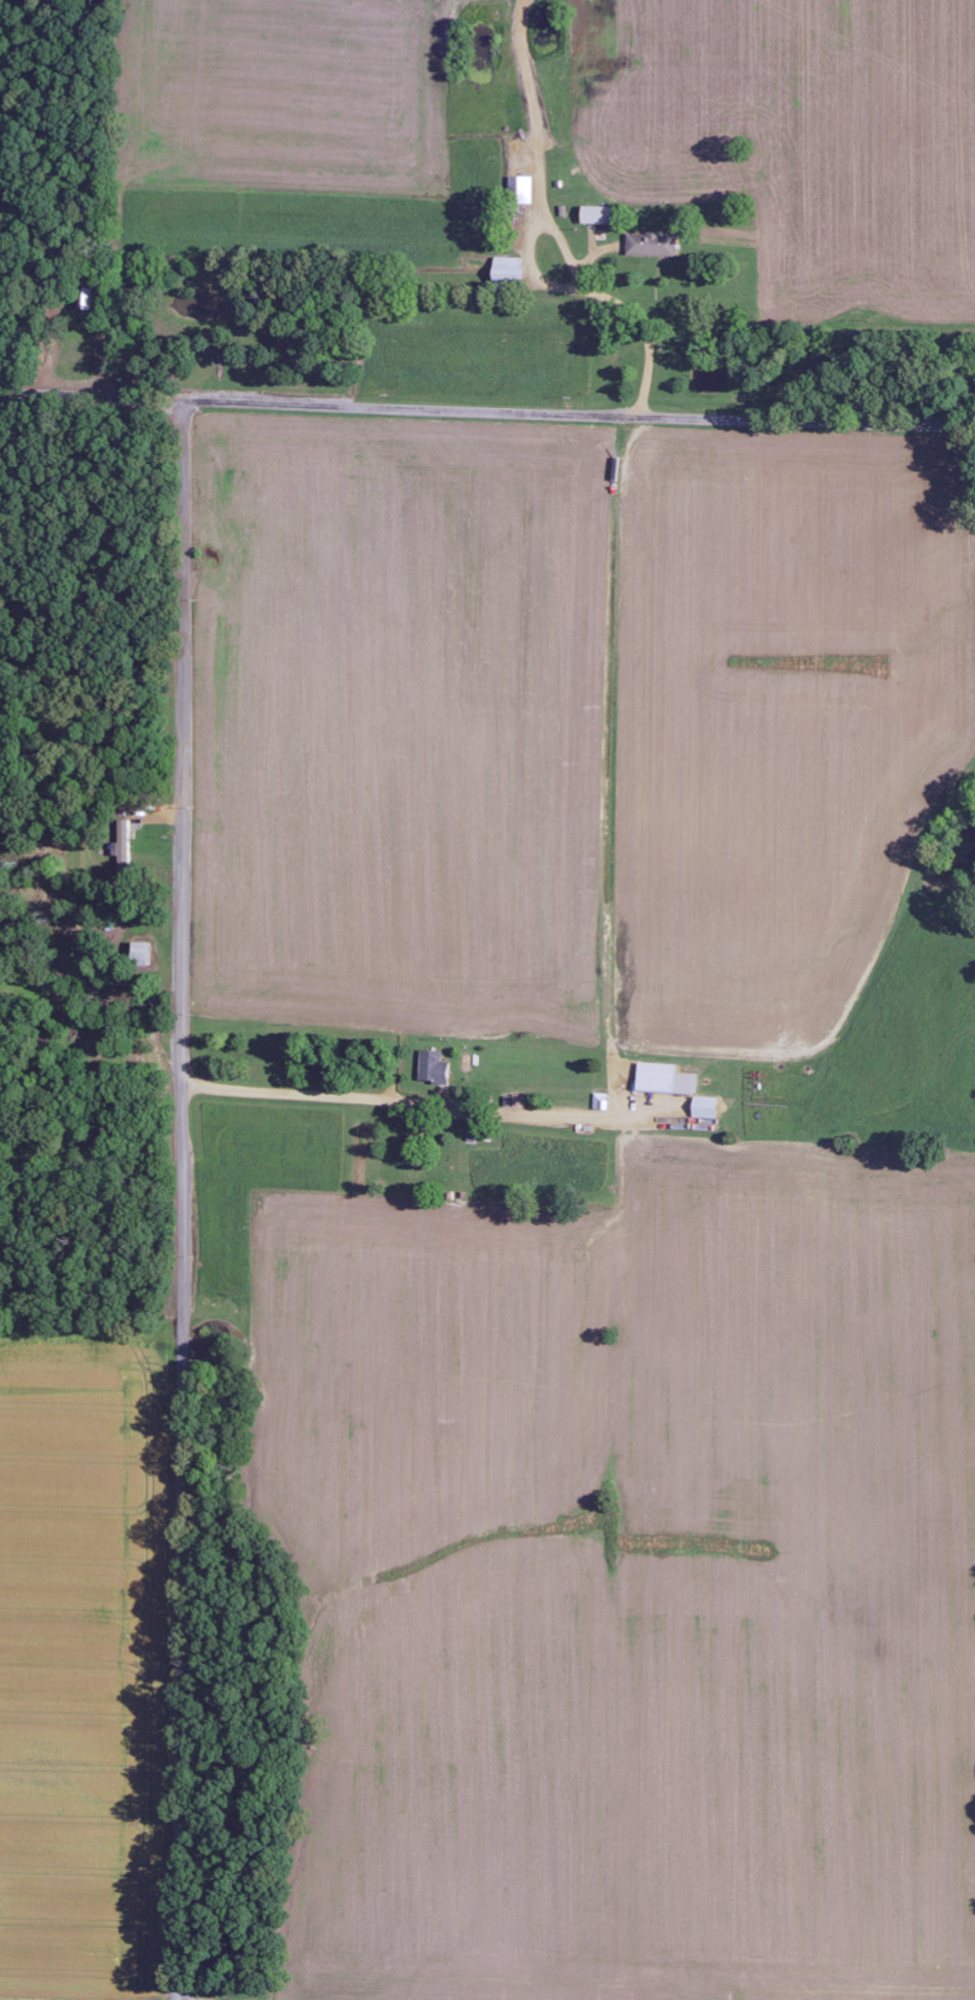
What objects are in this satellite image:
building: (522, 190)
building: (599, 216)
building: (653, 245)
building: (509, 272)
building: (87, 299)
road: (487, 413)
building: (124, 845)
building: (140, 952)
building: (434, 1067)
building: (665, 1080)
road: (308, 1101)
building: (705, 1107)
road: (182, 1200)

